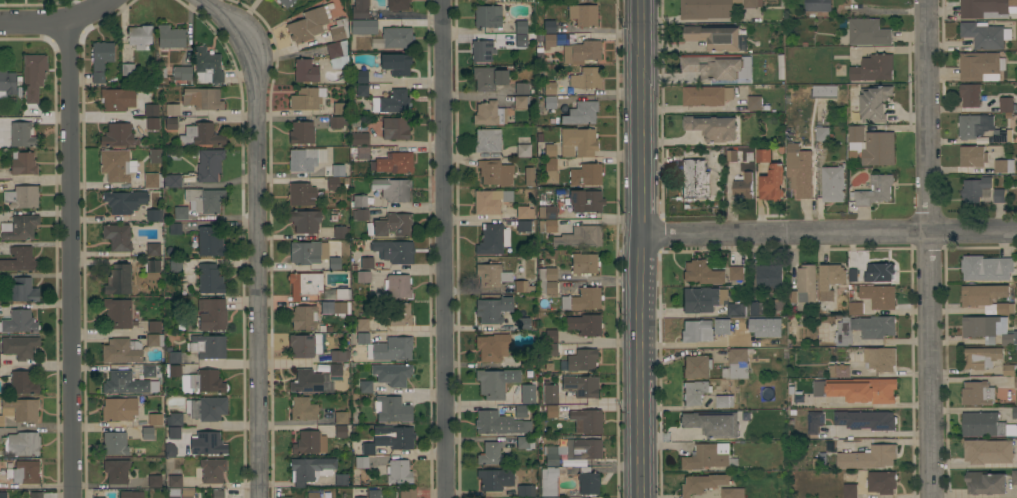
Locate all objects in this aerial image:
building: (285, 2)
building: (397, 5)
building: (817, 5)
building: (713, 8)
building: (360, 9)
building: (986, 9)
building: (583, 14)
building: (488, 16)
building: (308, 23)
road: (59, 24)
building: (364, 26)
building: (521, 26)
building: (549, 26)
building: (339, 29)
building: (867, 32)
building: (985, 35)
building: (140, 36)
building: (170, 36)
building: (393, 37)
building: (715, 37)
building: (521, 40)
building: (549, 41)
building: (481, 50)
building: (581, 51)
building: (337, 54)
building: (100, 59)
building: (208, 63)
building: (396, 63)
building: (980, 66)
building: (713, 67)
building: (873, 68)
building: (127, 69)
building: (305, 70)
building: (765, 70)
building: (182, 73)
building: (362, 74)
building: (34, 75)
building: (488, 78)
building: (586, 78)
building: (7, 83)
building: (521, 87)
road: (642, 87)
building: (548, 88)
building: (361, 89)
building: (824, 91)
building: (970, 95)
building: (706, 96)
building: (202, 98)
building: (307, 98)
building: (117, 99)
building: (392, 101)
building: (520, 101)
building: (549, 102)
building: (755, 103)
building: (874, 103)
building: (1005, 104)
building: (339, 108)
building: (151, 109)
building: (172, 109)
building: (988, 110)
building: (489, 113)
building: (581, 113)
building: (337, 121)
building: (152, 123)
building: (170, 123)
building: (973, 126)
building: (712, 127)
building: (395, 128)
building: (301, 132)
building: (22, 134)
building: (118, 134)
building: (200, 134)
building: (788, 134)
building: (822, 134)
building: (855, 134)
building: (999, 136)
building: (359, 138)
building: (487, 140)
building: (578, 141)
building: (550, 149)
building: (523, 150)
building: (878, 150)
building: (362, 152)
building: (154, 155)
building: (731, 155)
building: (763, 156)
building: (973, 156)
building: (306, 158)
building: (393, 163)
building: (23, 164)
building: (116, 165)
building: (208, 165)
building: (1004, 167)
building: (338, 170)
building: (550, 170)
building: (799, 171)
building: (495, 172)
building: (585, 174)
building: (528, 176)
building: (695, 179)
building: (151, 180)
building: (171, 180)
building: (333, 183)
building: (771, 184)
building: (833, 184)
building: (743, 185)
building: (393, 189)
building: (974, 189)
building: (875, 190)
building: (301, 193)
building: (21, 196)
building: (999, 196)
building: (204, 199)
building: (359, 200)
building: (490, 200)
building: (585, 203)
building: (131, 204)
road: (643, 205)
building: (524, 211)
building: (548, 211)
building: (181, 212)
building: (360, 214)
building: (304, 220)
building: (392, 224)
building: (523, 225)
building: (547, 225)
building: (19, 227)
building: (175, 228)
building: (340, 231)
road: (830, 232)
building: (118, 236)
building: (580, 236)
building: (493, 239)
building: (210, 240)
road: (261, 240)
building: (153, 248)
road: (440, 249)
road: (931, 249)
building: (394, 250)
building: (306, 252)
building: (24, 257)
road: (72, 260)
building: (334, 262)
building: (367, 262)
building: (584, 263)
building: (153, 265)
building: (176, 265)
building: (986, 268)
building: (702, 272)
building: (877, 272)
building: (737, 273)
building: (491, 275)
building: (363, 276)
building: (851, 276)
building: (768, 277)
building: (210, 278)
building: (118, 279)
building: (541, 280)
building: (830, 280)
building: (305, 283)
building: (806, 284)
building: (397, 285)
building: (523, 286)
building: (24, 290)
building: (840, 291)
building: (342, 293)
building: (879, 297)
building: (986, 298)
building: (583, 299)
building: (703, 299)
building: (340, 307)
building: (855, 308)
building: (492, 309)
building: (757, 309)
building: (734, 310)
building: (824, 310)
building: (118, 312)
building: (212, 313)
building: (398, 313)
building: (304, 317)
building: (19, 322)
building: (523, 323)
building: (362, 324)
building: (585, 324)
building: (154, 326)
building: (875, 327)
building: (983, 327)
building: (763, 329)
building: (699, 331)
building: (843, 332)
building: (551, 335)
building: (363, 338)
building: (154, 339)
building: (732, 339)
building: (1009, 339)
building: (305, 345)
building: (208, 346)
building: (492, 346)
building: (23, 347)
building: (393, 348)
building: (551, 349)
building: (121, 350)
building: (339, 355)
building: (174, 357)
building: (980, 358)
building: (881, 359)
building: (526, 360)
building: (582, 360)
building: (736, 364)
road: (642, 366)
building: (696, 366)
building: (338, 368)
building: (148, 370)
building: (1008, 370)
building: (838, 372)
building: (392, 373)
building: (198, 379)
building: (308, 381)
building: (121, 382)
building: (1016, 382)
building: (20, 383)
building: (491, 383)
building: (580, 385)
building: (366, 386)
building: (858, 390)
building: (790, 391)
building: (695, 392)
building: (527, 393)
building: (551, 394)
building: (977, 394)
building: (724, 401)
building: (119, 408)
building: (206, 408)
building: (303, 408)
building: (19, 409)
building: (391, 409)
building: (521, 411)
building: (551, 411)
building: (791, 413)
building: (1014, 413)
building: (744, 416)
building: (340, 417)
building: (815, 418)
building: (155, 419)
building: (174, 419)
building: (587, 420)
building: (865, 420)
building: (499, 423)
building: (712, 423)
building: (985, 425)
building: (339, 430)
building: (147, 432)
building: (174, 432)
building: (396, 436)
building: (310, 442)
building: (525, 442)
building: (22, 443)
building: (115, 443)
building: (208, 443)
building: (1016, 447)
building: (368, 448)
building: (170, 450)
building: (573, 450)
building: (987, 452)
building: (490, 454)
building: (708, 457)
building: (869, 458)
building: (361, 462)
building: (212, 469)
building: (310, 469)
building: (116, 470)
building: (24, 471)
building: (398, 471)
building: (1014, 477)
building: (552, 478)
building: (341, 479)
building: (490, 480)
building: (154, 481)
building: (175, 481)
building: (588, 481)
building: (881, 482)
building: (985, 483)
building: (702, 484)
building: (526, 490)
building: (849, 491)
building: (187, 492)
building: (732, 492)
building: (286, 493)
building: (373, 493)
building: (408, 493)
building: (3, 494)
building: (33, 494)
building: (131, 494)
building: (217, 494)
building: (360, 494)
building: (312, 495)
building: (173, 496)
building: (98, 497)

